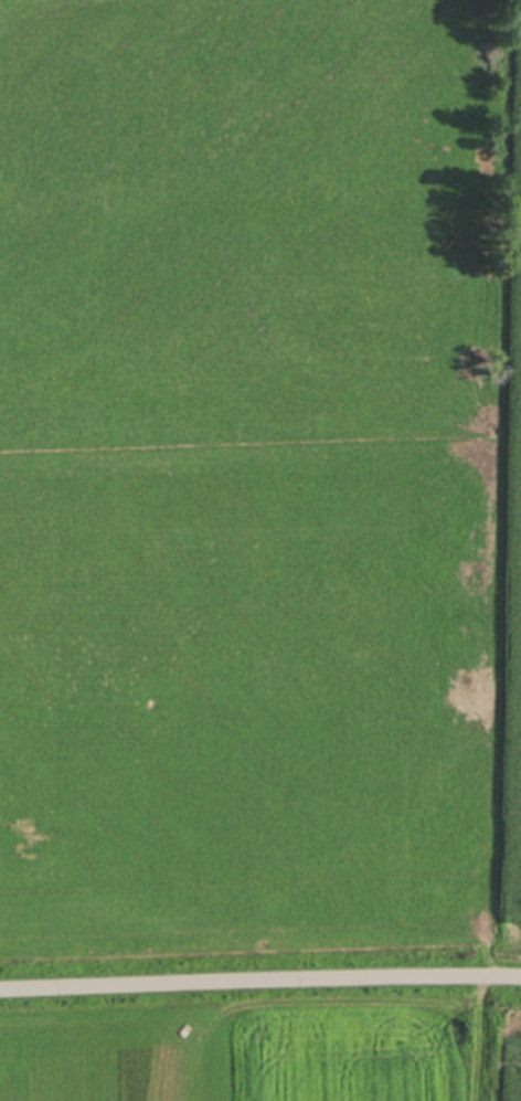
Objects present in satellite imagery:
road: (259, 983)

